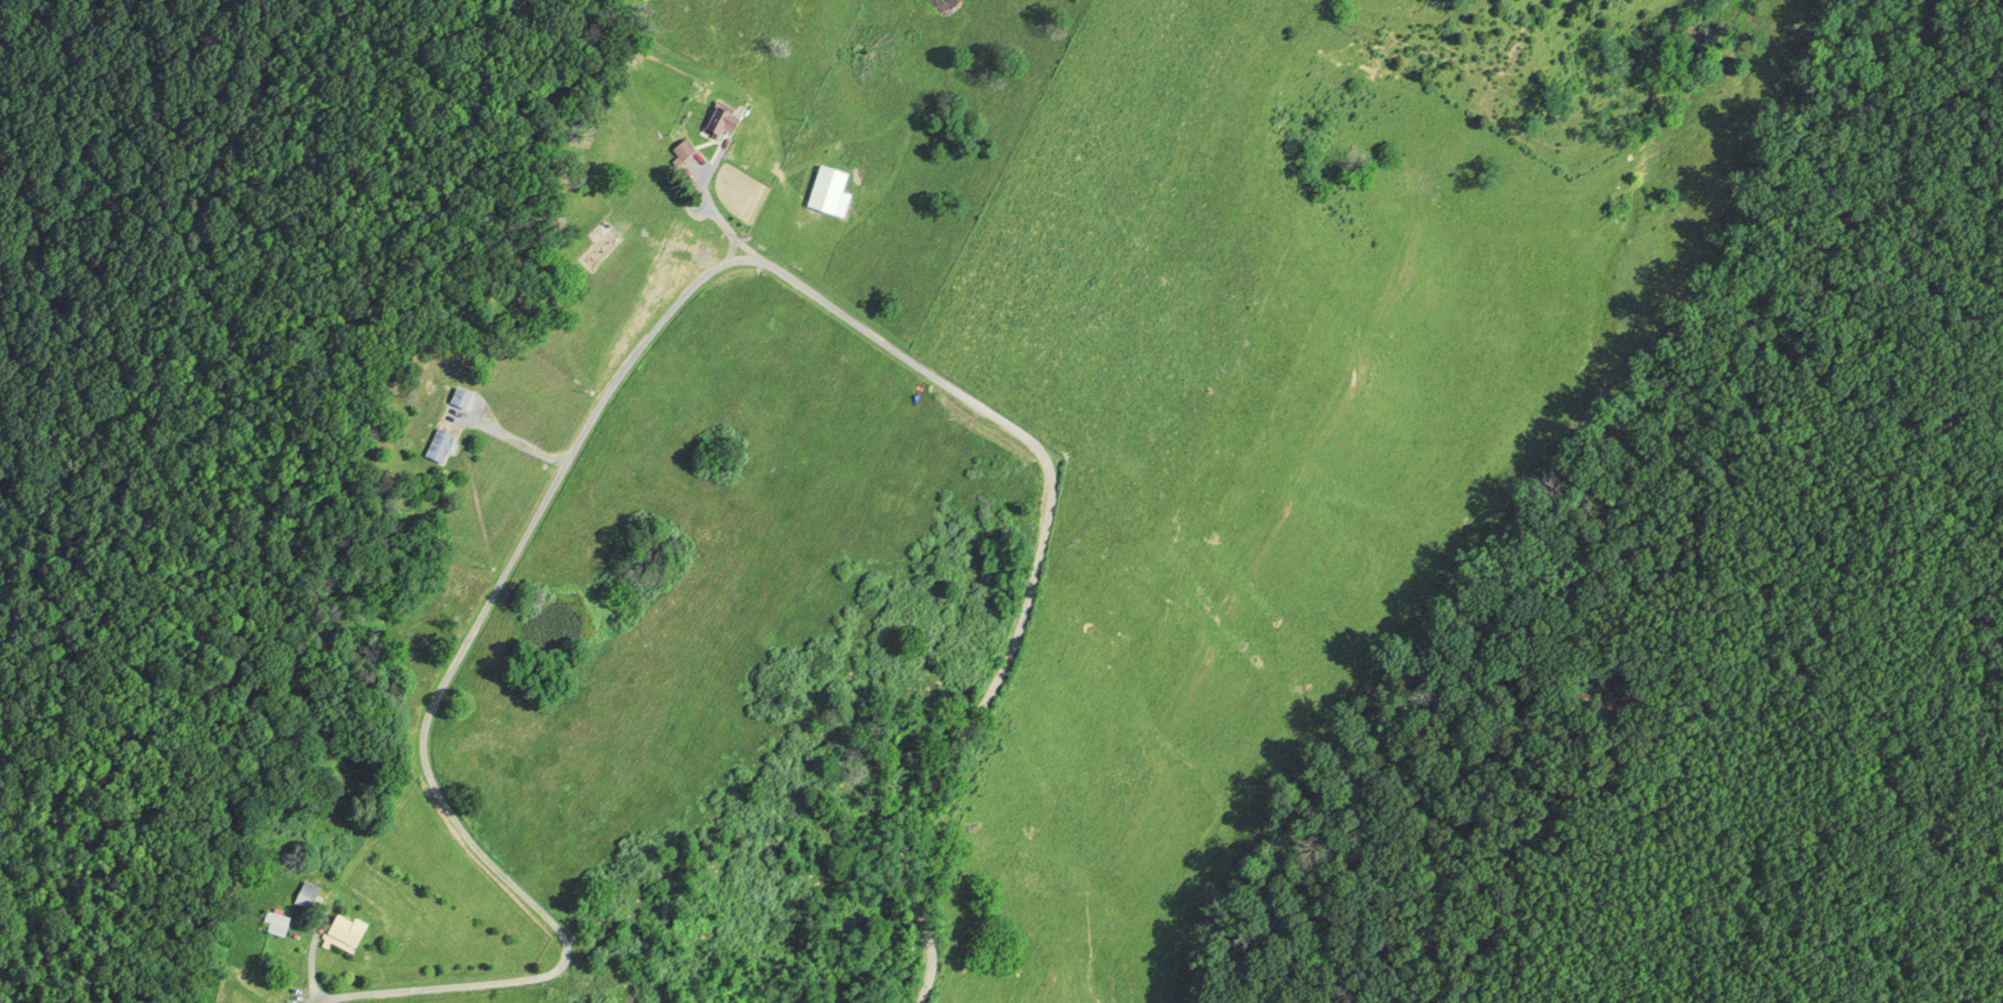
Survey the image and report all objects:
building: (719, 123)
building: (682, 150)
building: (828, 192)
building: (598, 251)
road: (773, 299)
building: (462, 398)
building: (438, 446)
building: (305, 895)
building: (276, 923)
building: (344, 931)

